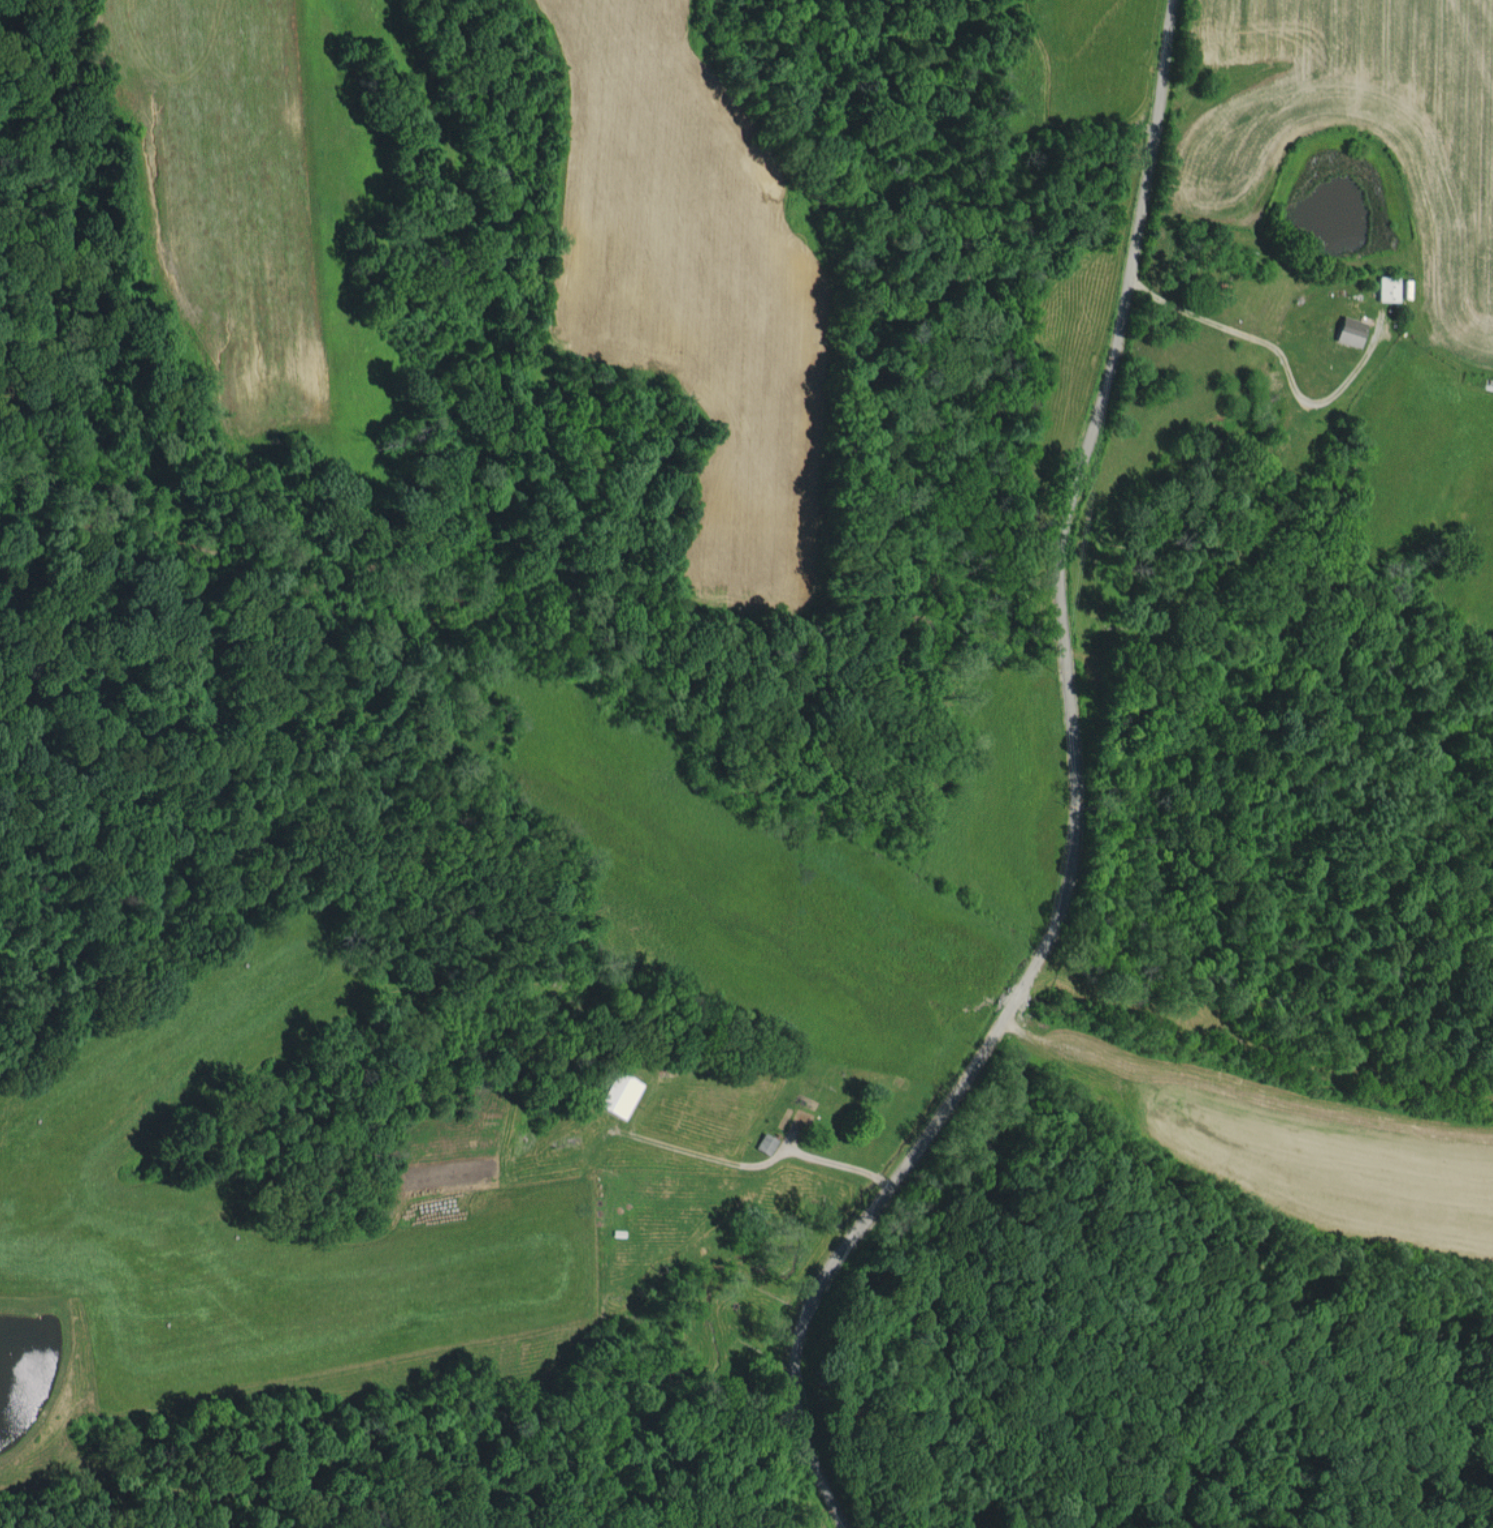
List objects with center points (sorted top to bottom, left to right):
building: (1392, 282)
building: (1351, 331)
road: (1277, 367)
road: (1064, 796)
building: (621, 1093)
road: (1241, 1111)
building: (766, 1142)
road: (762, 1163)

